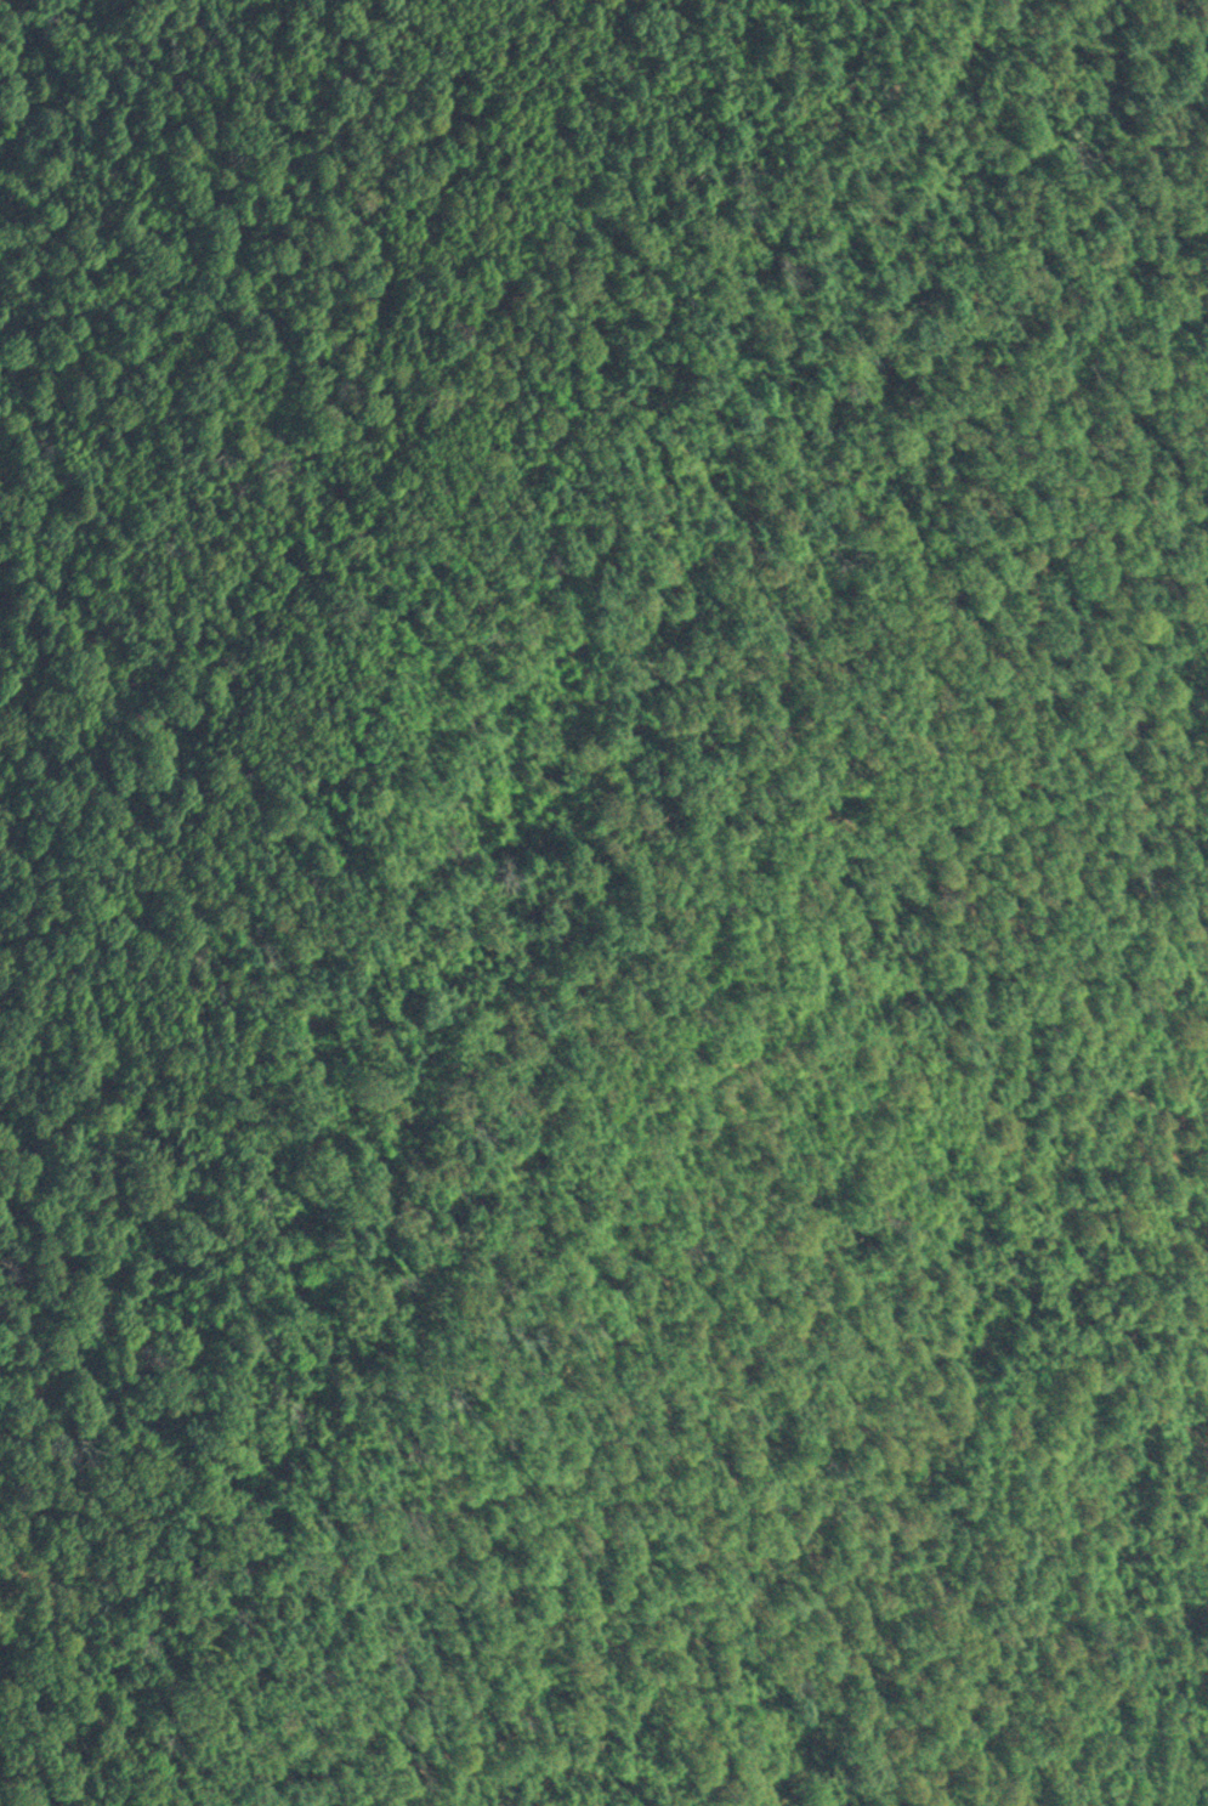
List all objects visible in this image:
road: (538, 930)

